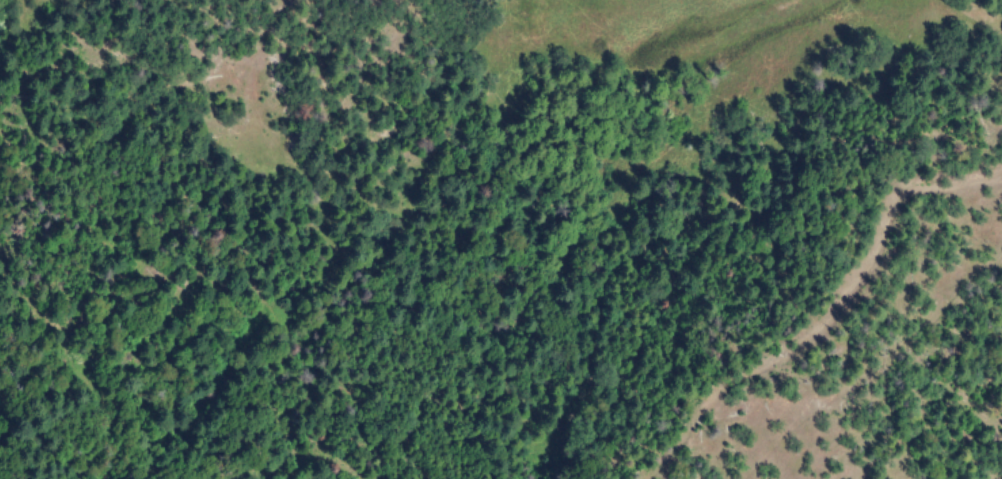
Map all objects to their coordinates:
road: (880, 130)

